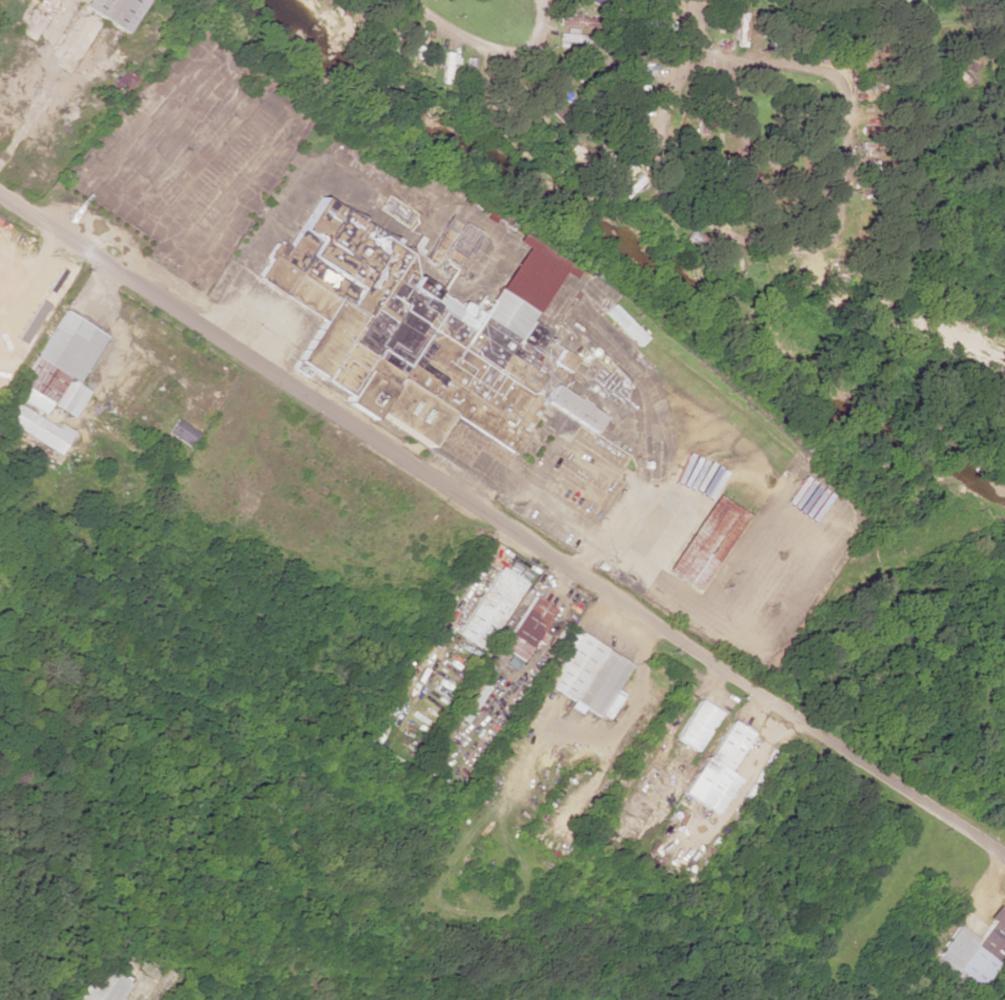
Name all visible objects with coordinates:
building: (113, 11)
road: (693, 26)
building: (445, 67)
road: (750, 153)
road: (822, 240)
building: (452, 242)
river: (629, 249)
building: (623, 324)
building: (418, 334)
building: (564, 359)
building: (60, 366)
building: (34, 426)
building: (182, 432)
road: (502, 522)
building: (704, 542)
building: (490, 607)
building: (527, 631)
building: (589, 676)
building: (471, 697)
building: (696, 725)
building: (717, 768)
building: (973, 955)
building: (98, 985)

